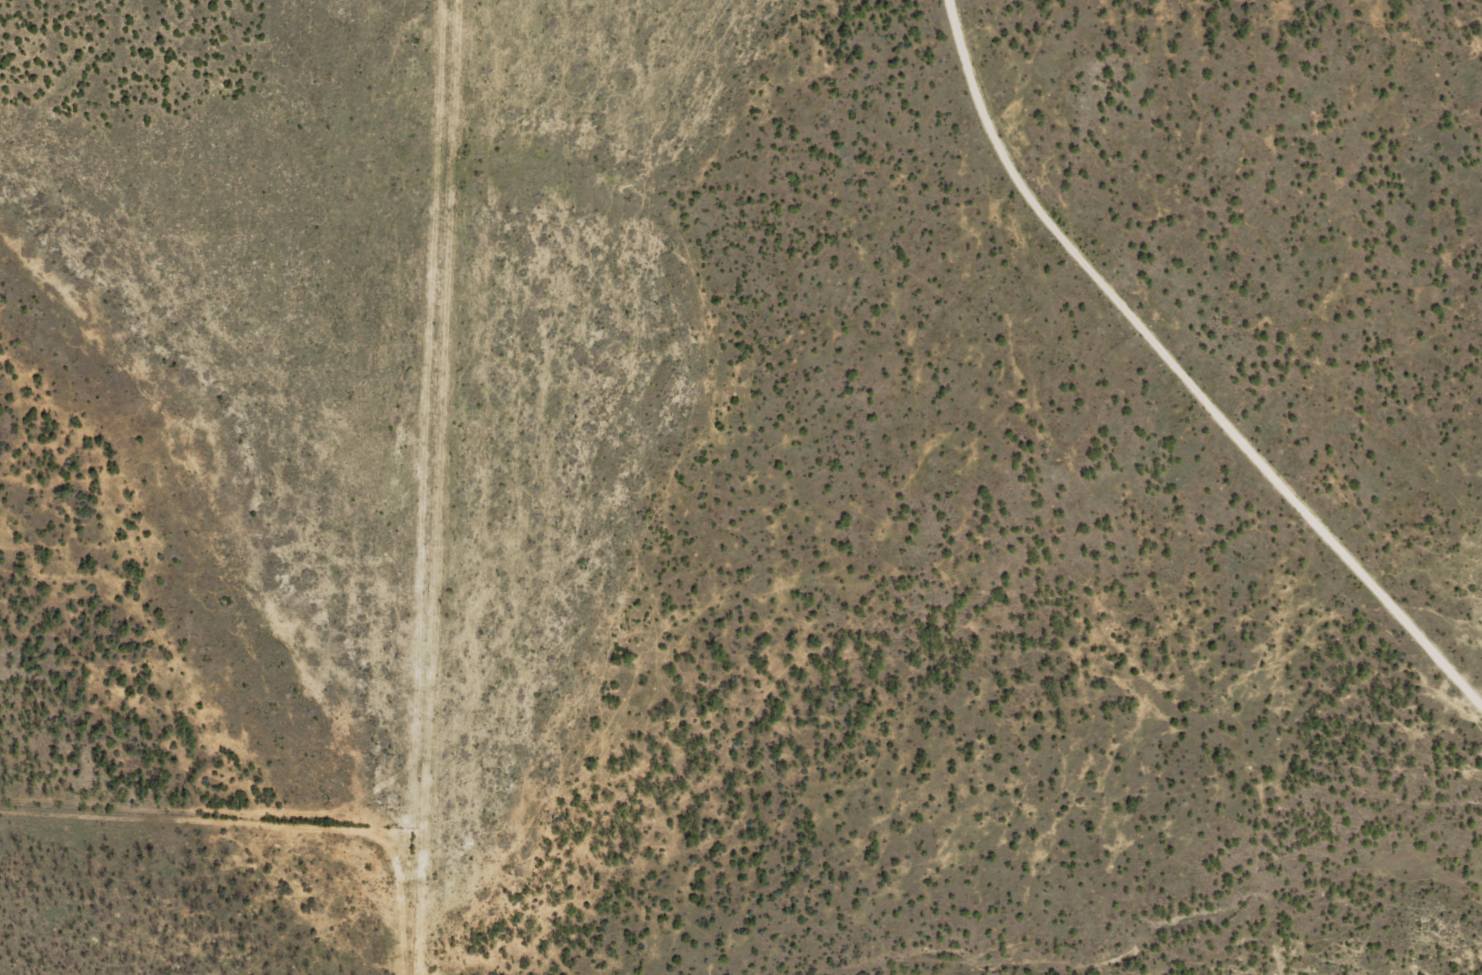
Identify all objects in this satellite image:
road: (1057, 387)
road: (1256, 501)
road: (1425, 688)
road: (1199, 774)

